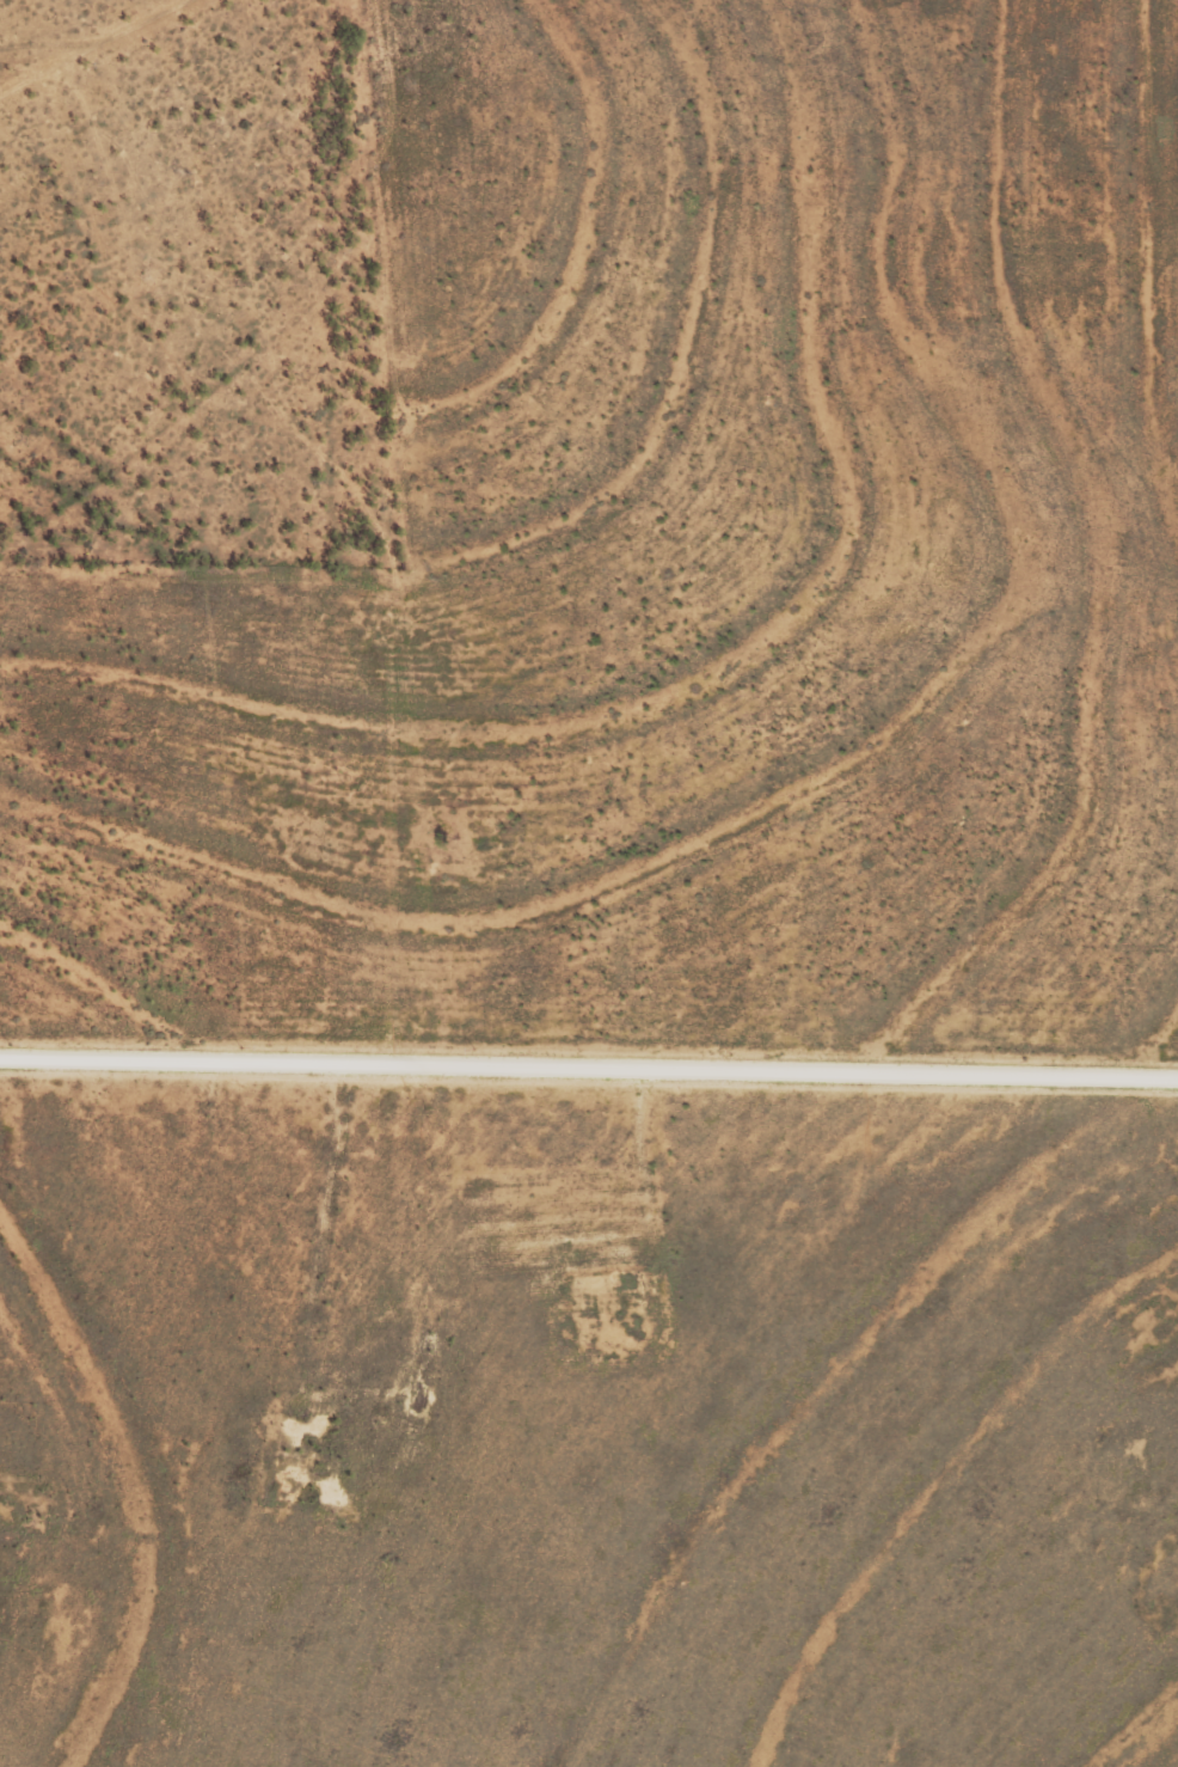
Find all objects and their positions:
road: (106, 48)
road: (589, 1066)
road: (94, 1500)

